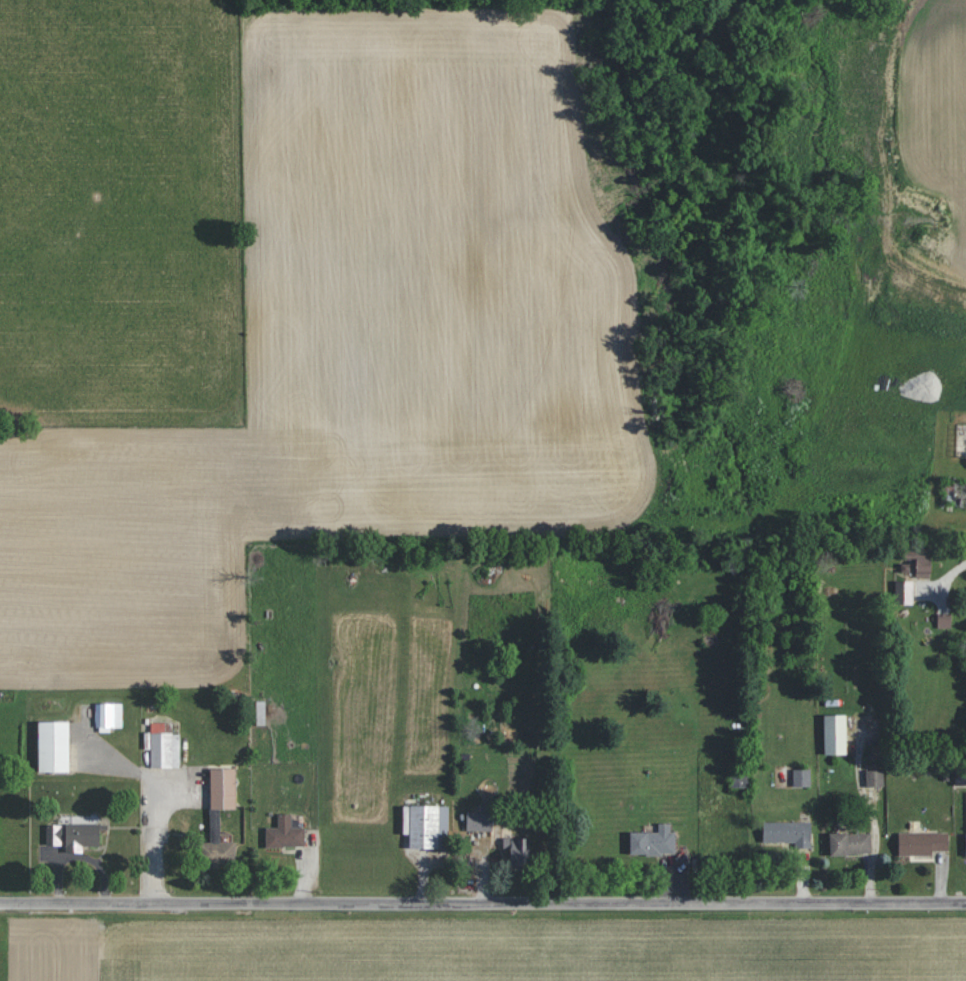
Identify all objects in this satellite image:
building: (921, 562)
road: (954, 572)
building: (904, 592)
building: (260, 713)
building: (108, 716)
building: (835, 735)
building: (164, 746)
building: (54, 747)
building: (802, 778)
building: (875, 778)
building: (960, 778)
building: (223, 789)
building: (481, 820)
building: (429, 827)
building: (285, 833)
building: (788, 834)
building: (73, 836)
building: (654, 842)
road: (161, 843)
building: (922, 843)
building: (850, 844)
building: (517, 852)
building: (220, 854)
road: (482, 904)

